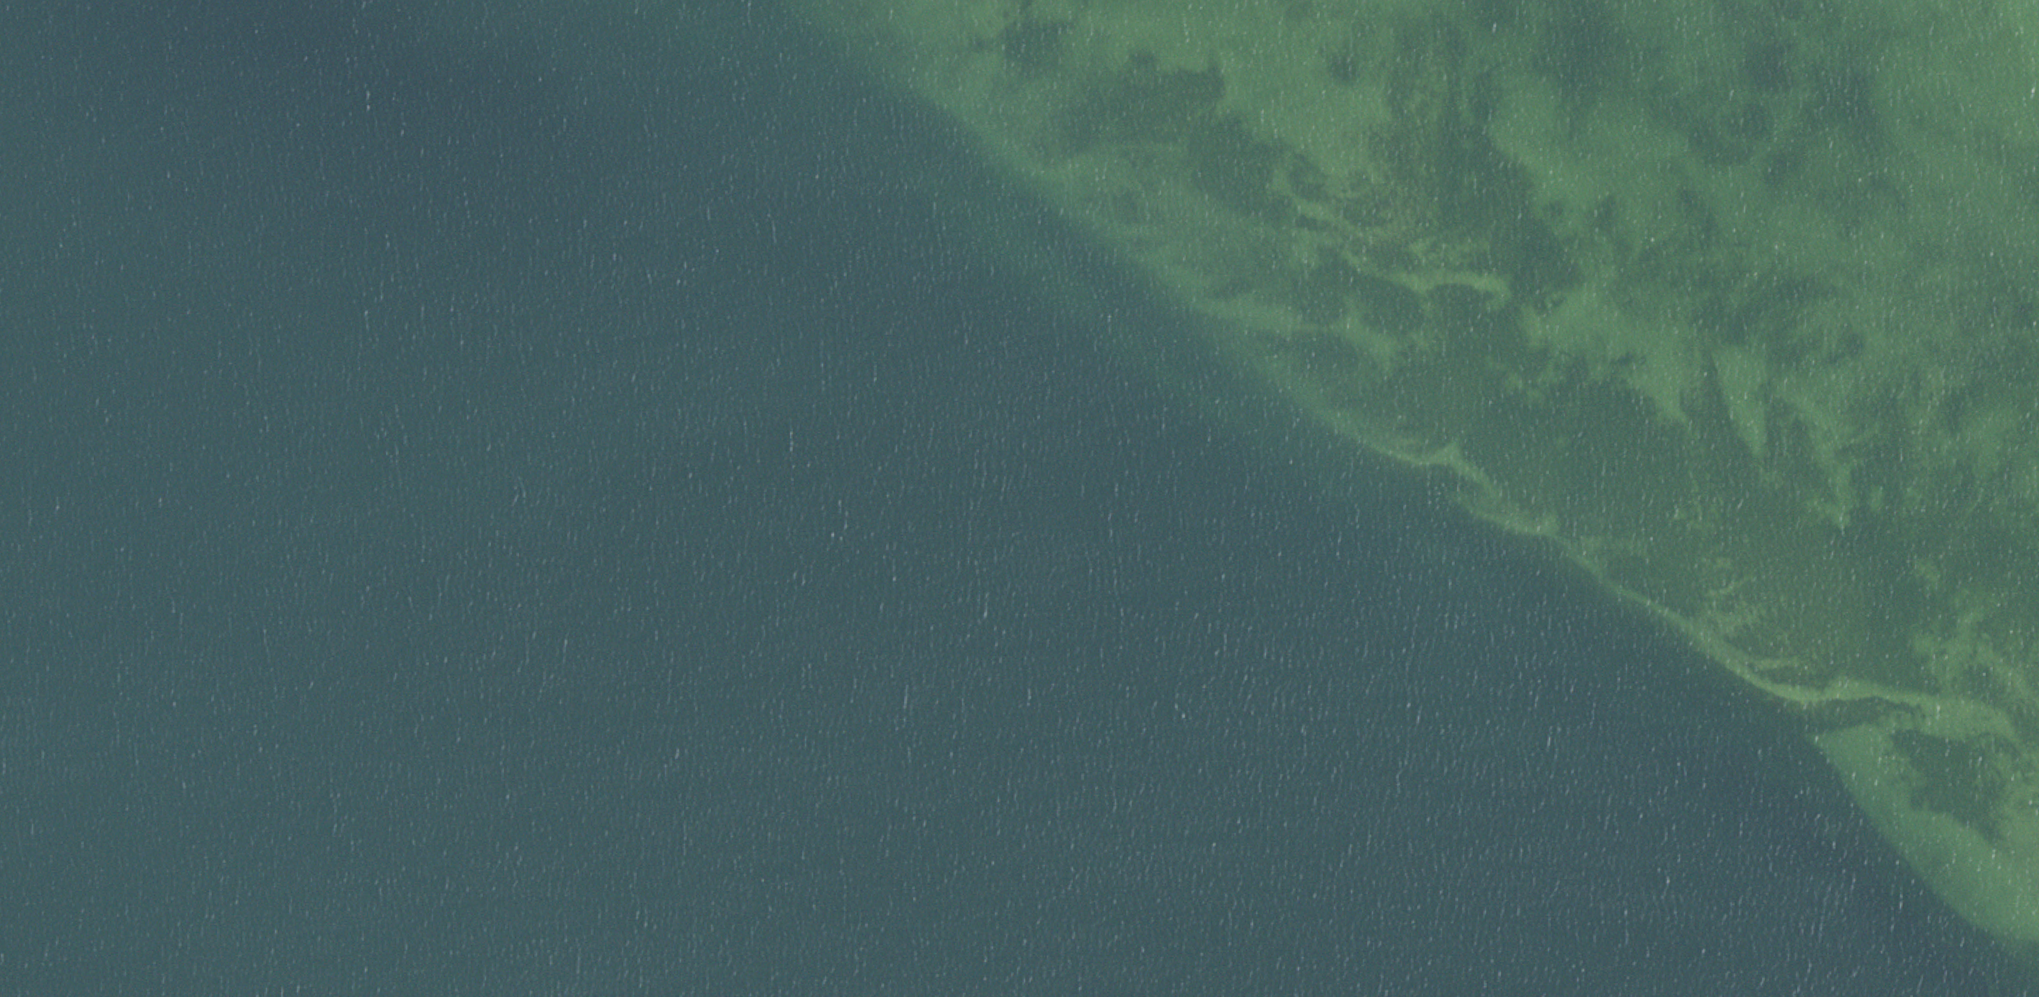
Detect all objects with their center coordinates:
river: (910, 498)

